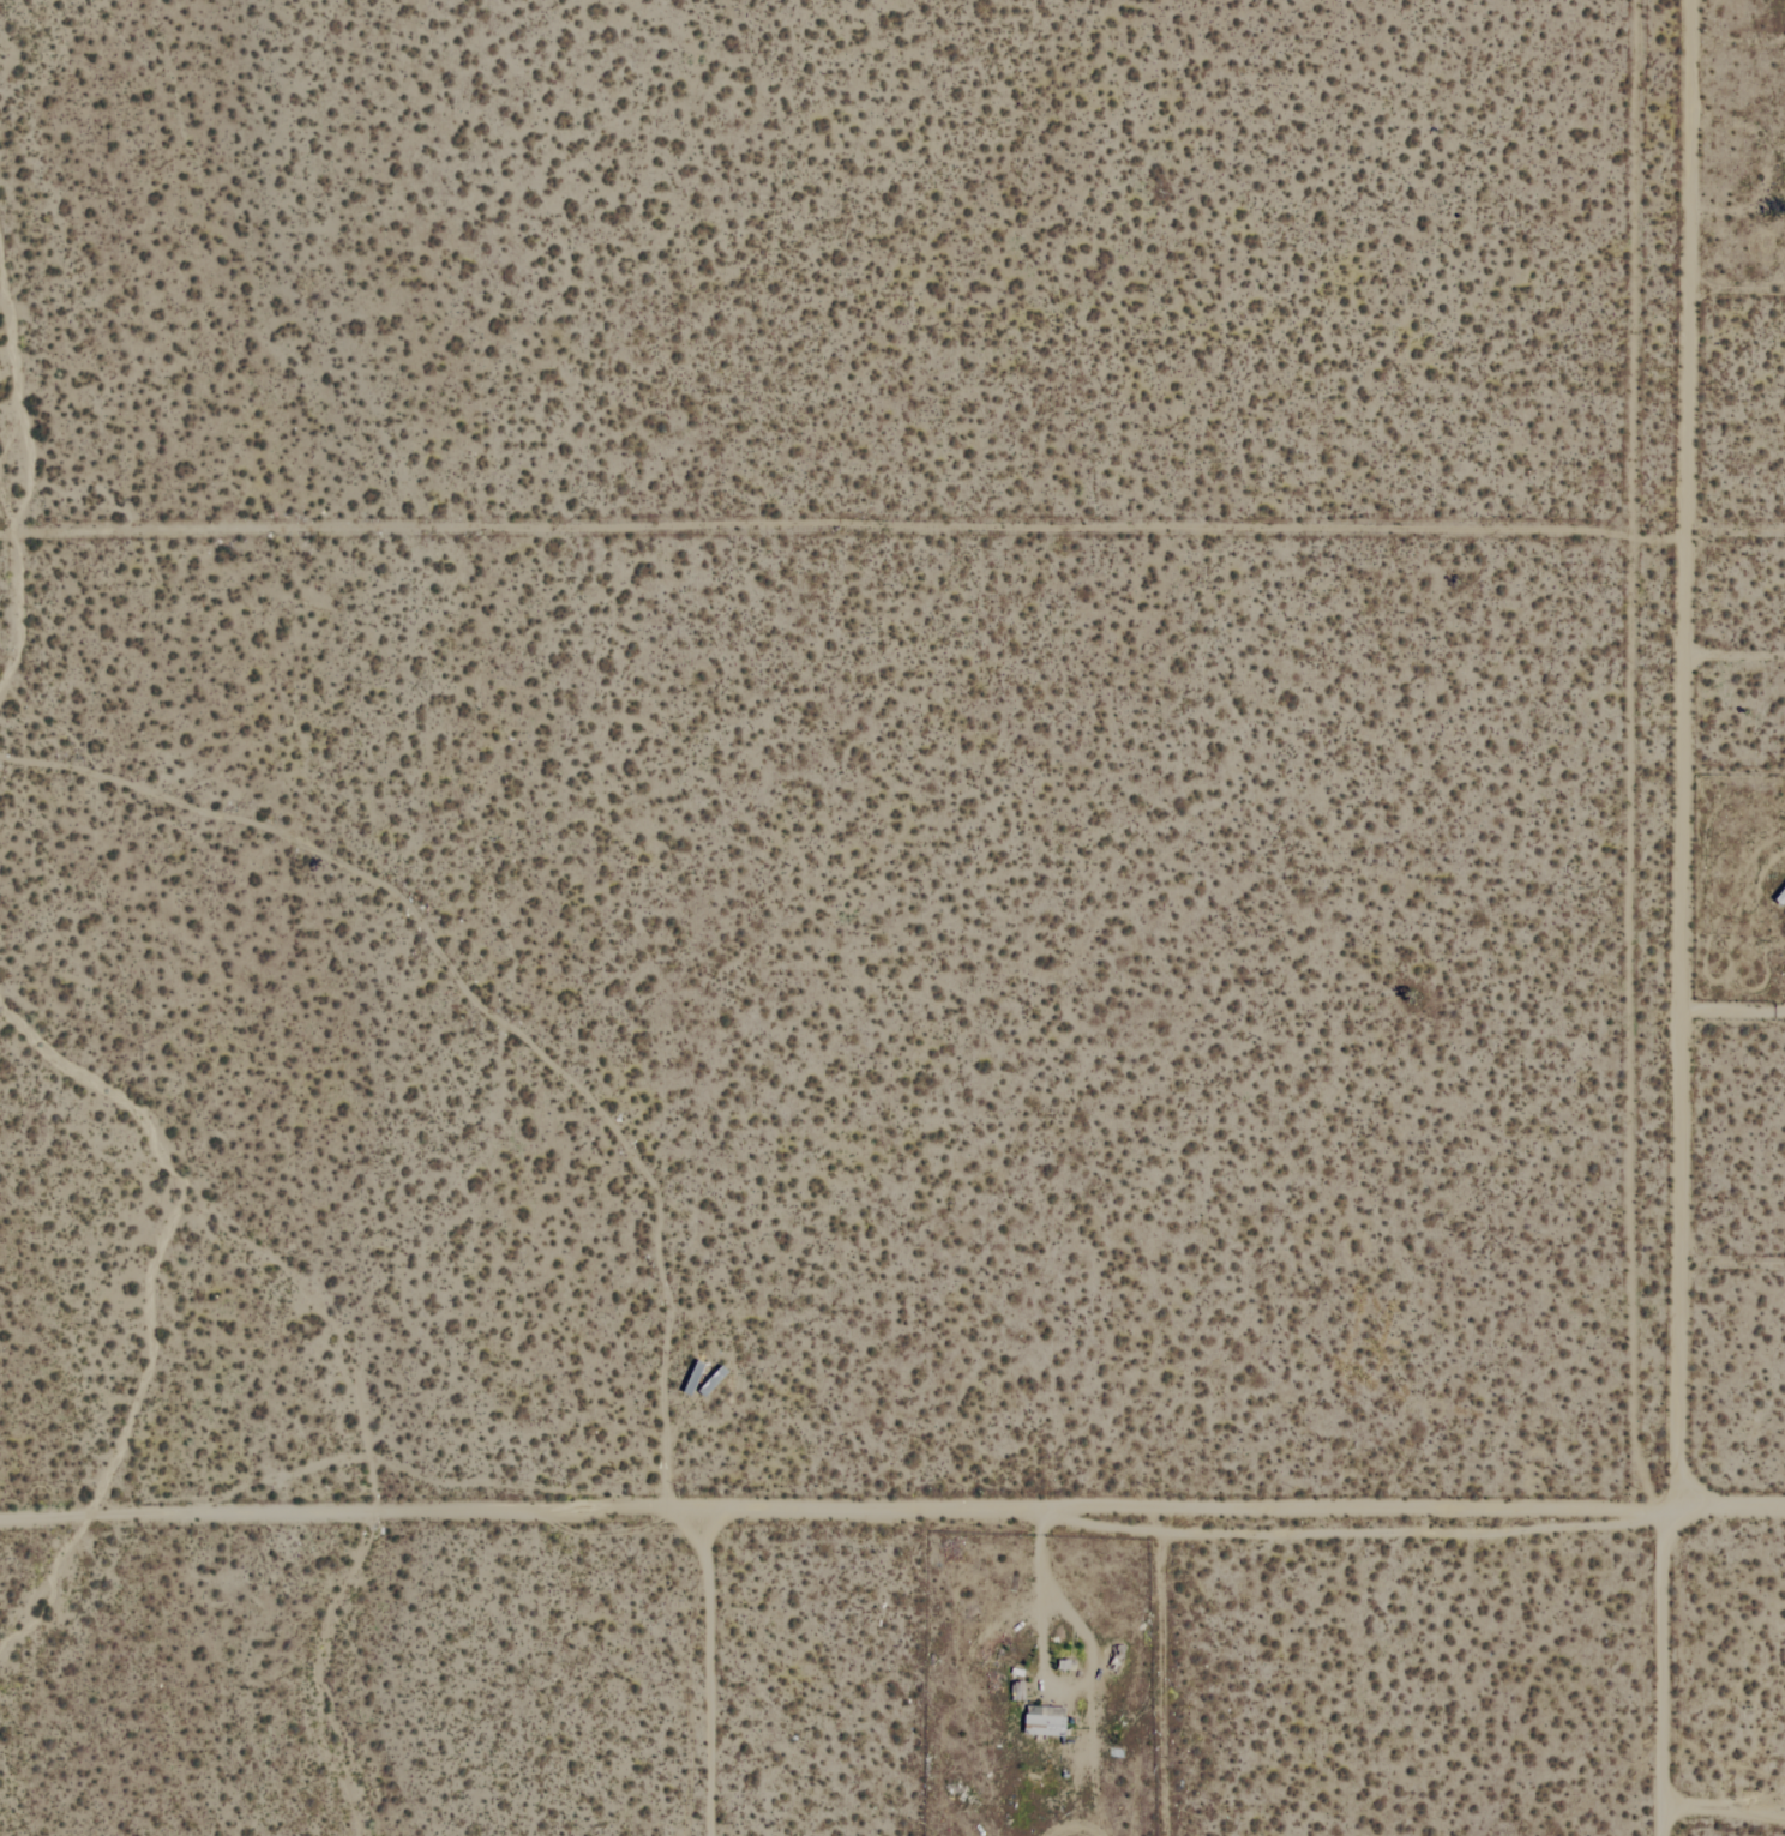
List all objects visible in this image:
road: (1678, 917)
road: (1733, 1007)
road: (891, 1515)
road: (1047, 1671)
road: (707, 1677)
building: (1044, 1722)
road: (1726, 1806)

